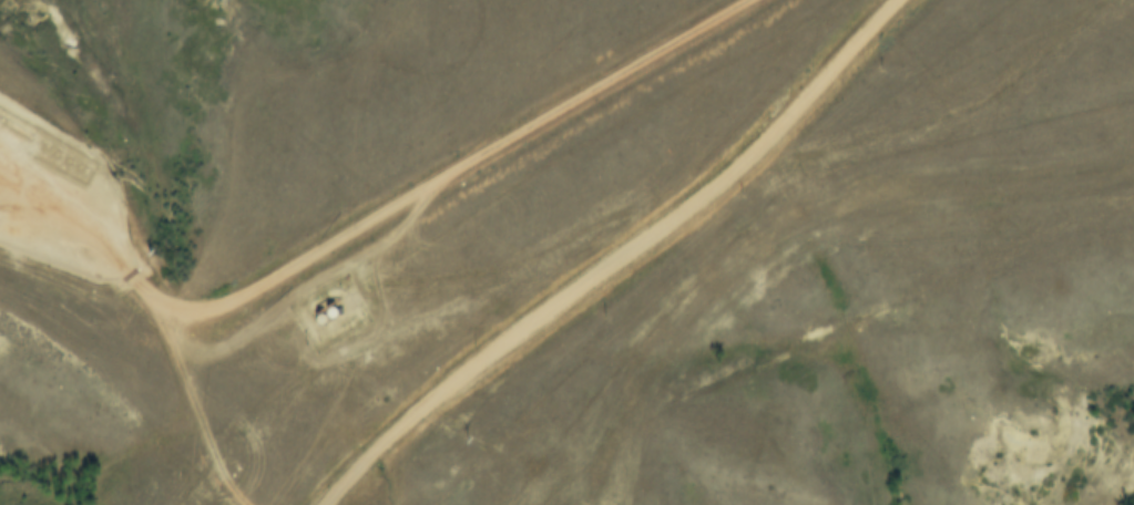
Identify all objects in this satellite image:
road: (369, 223)
road: (620, 260)
road: (192, 415)

